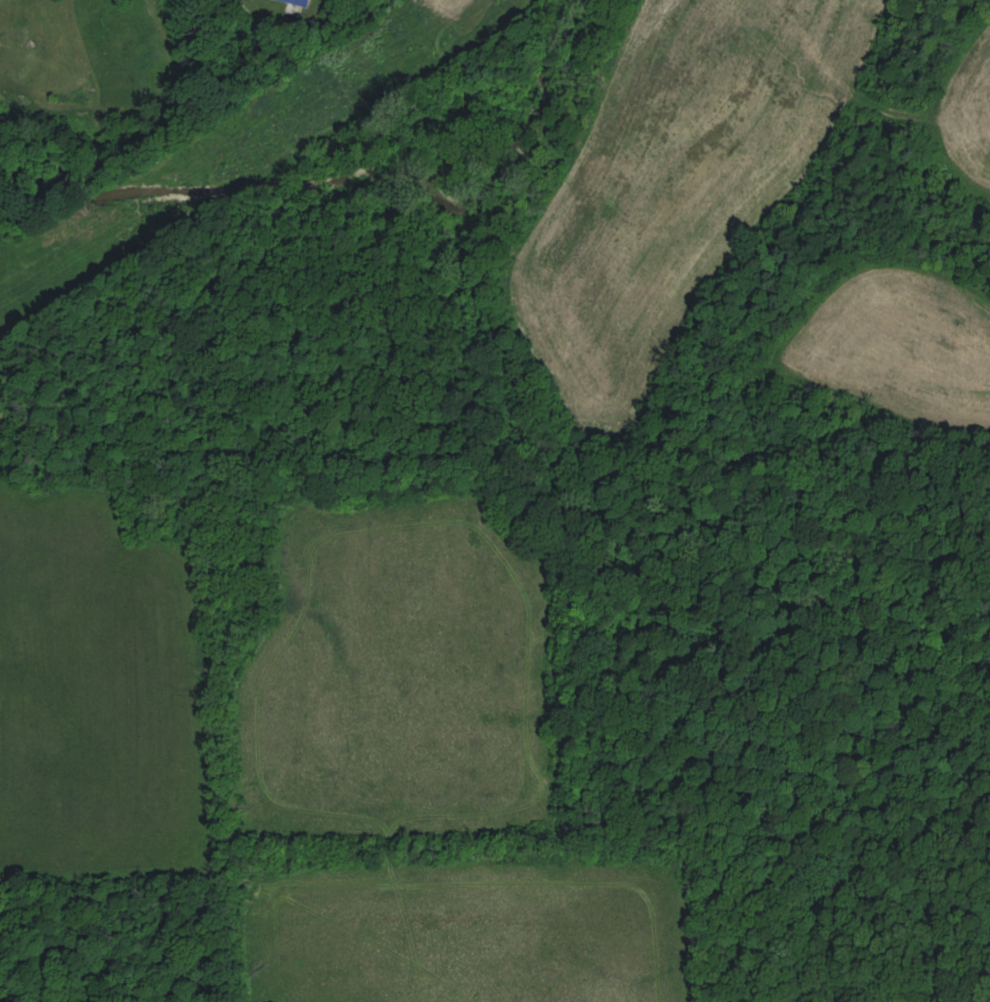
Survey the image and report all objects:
building: (297, 3)

